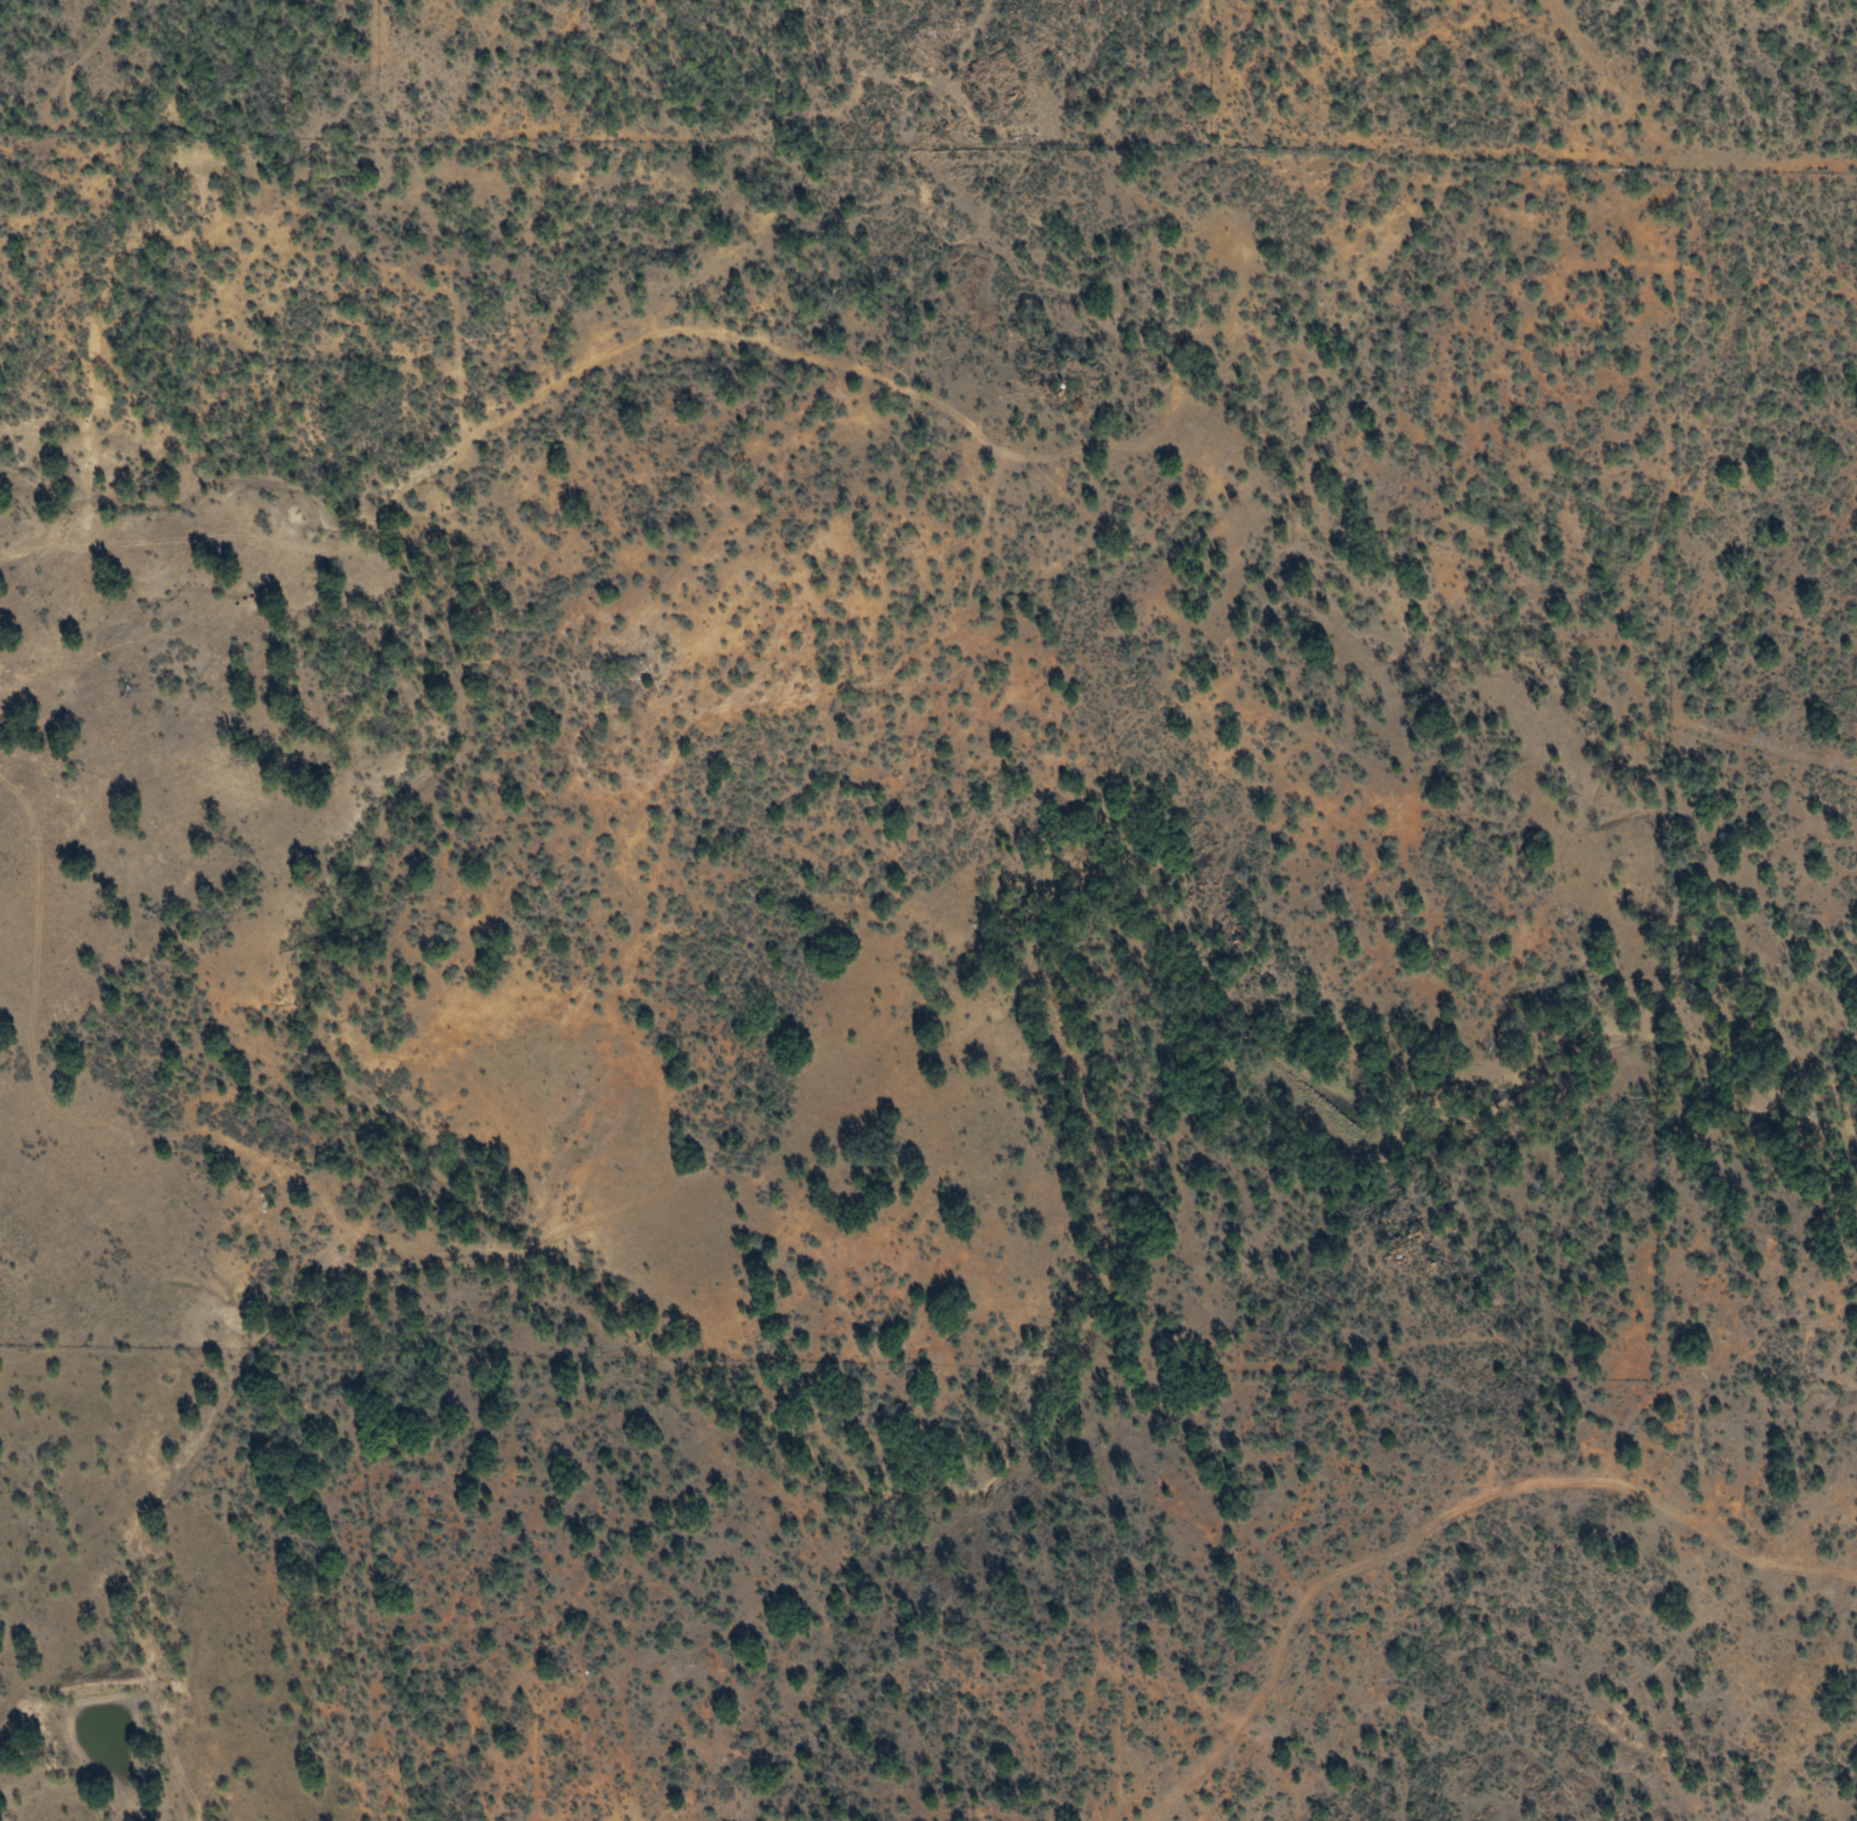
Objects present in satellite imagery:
road: (1451, 1530)

